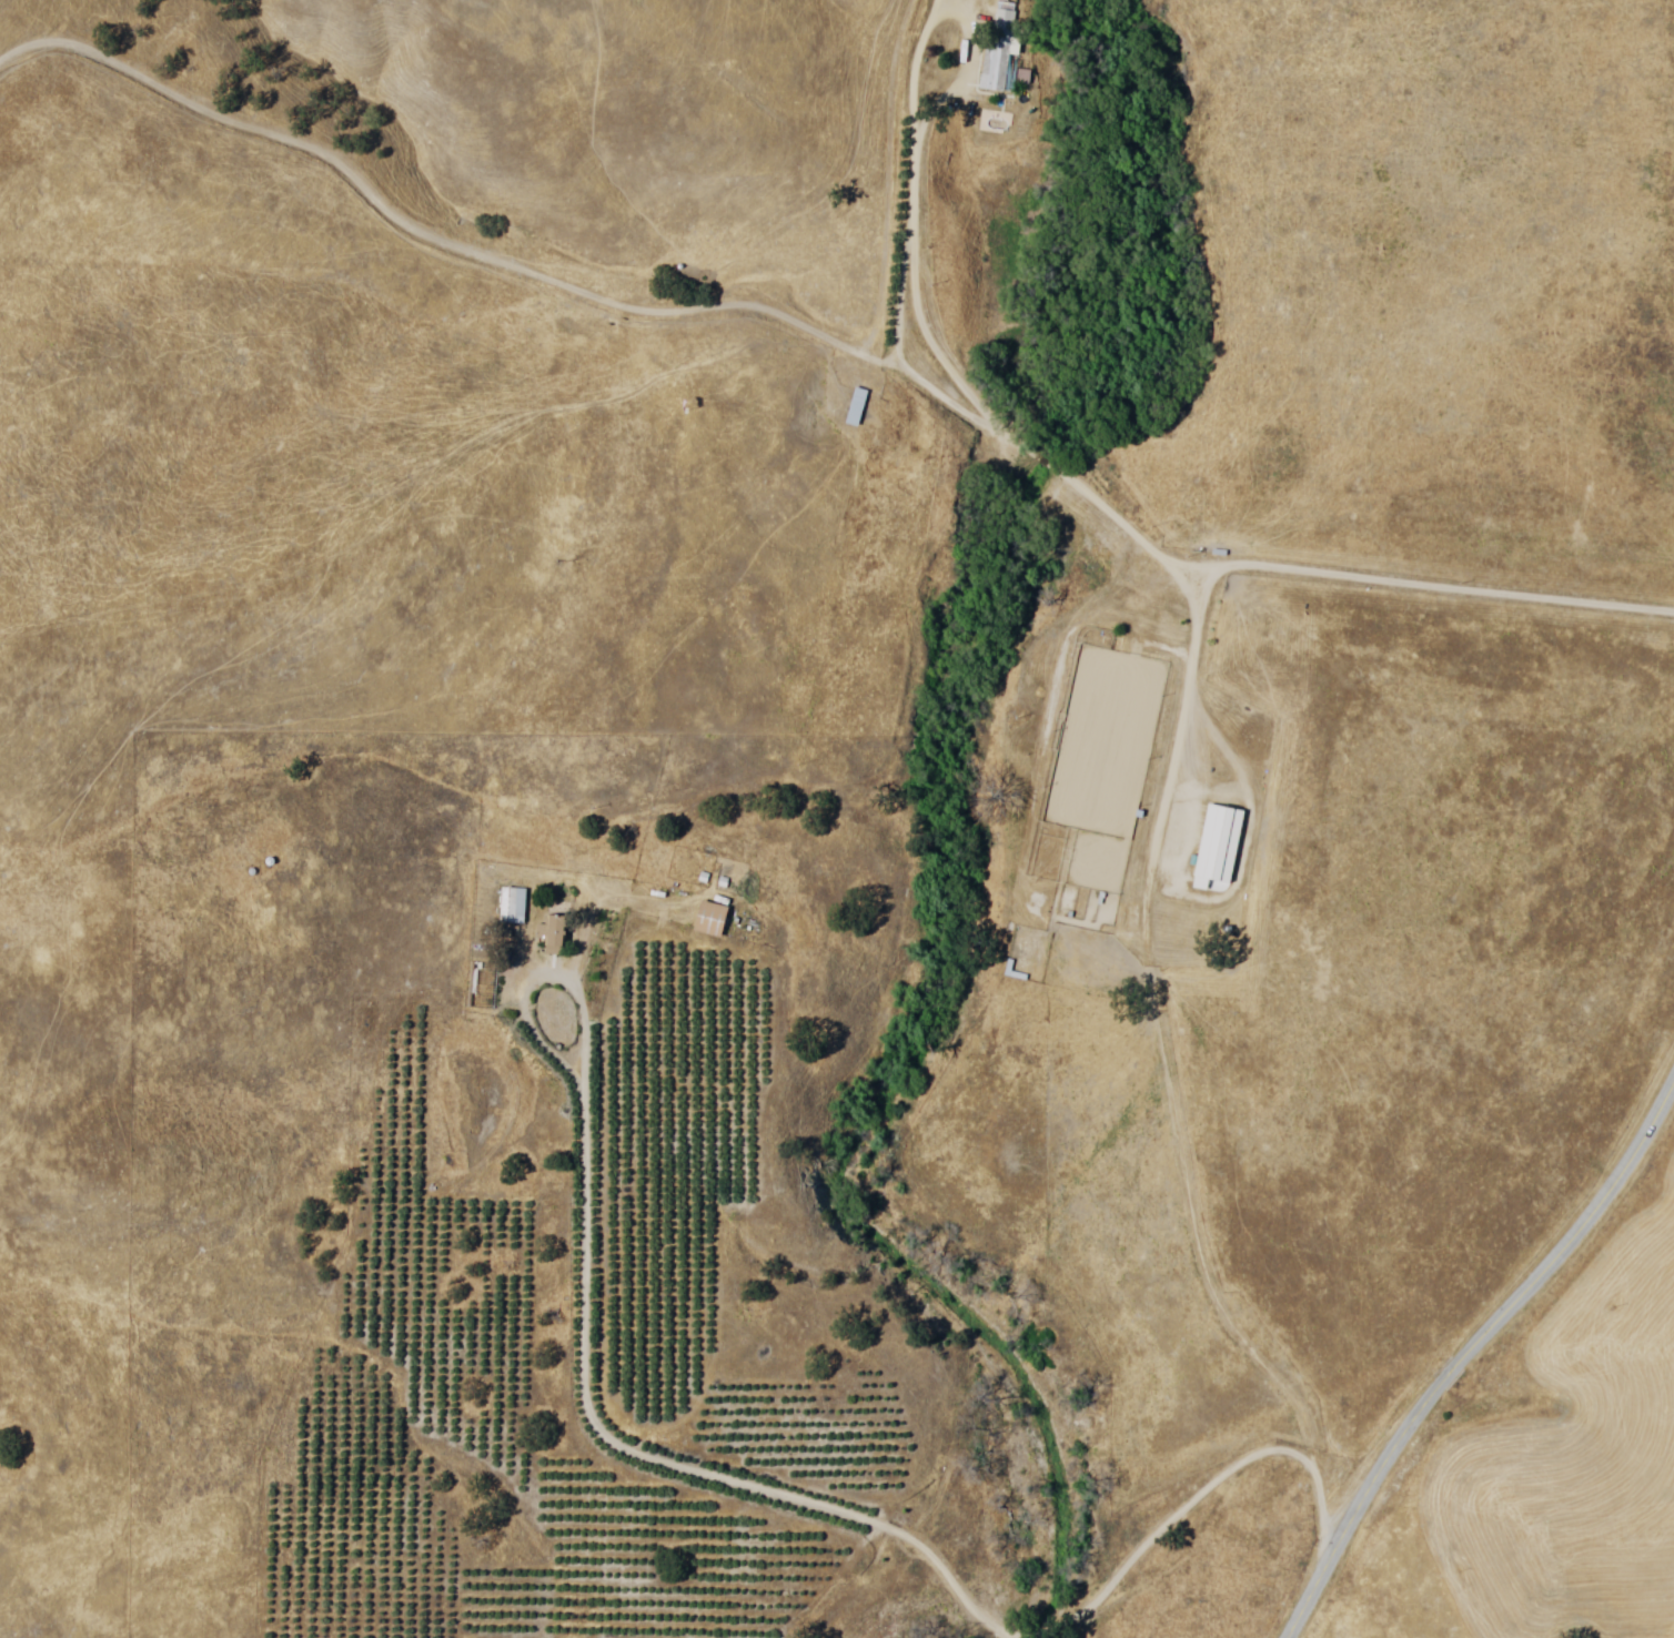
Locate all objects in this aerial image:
road: (29, 26)
building: (999, 49)
road: (1063, 280)
building: (857, 405)
building: (1220, 842)
road: (1157, 850)
building: (514, 902)
building: (709, 919)
building: (555, 930)
building: (475, 988)
road: (1660, 1128)
road: (1468, 1347)
road: (634, 1449)
road: (1167, 1521)

